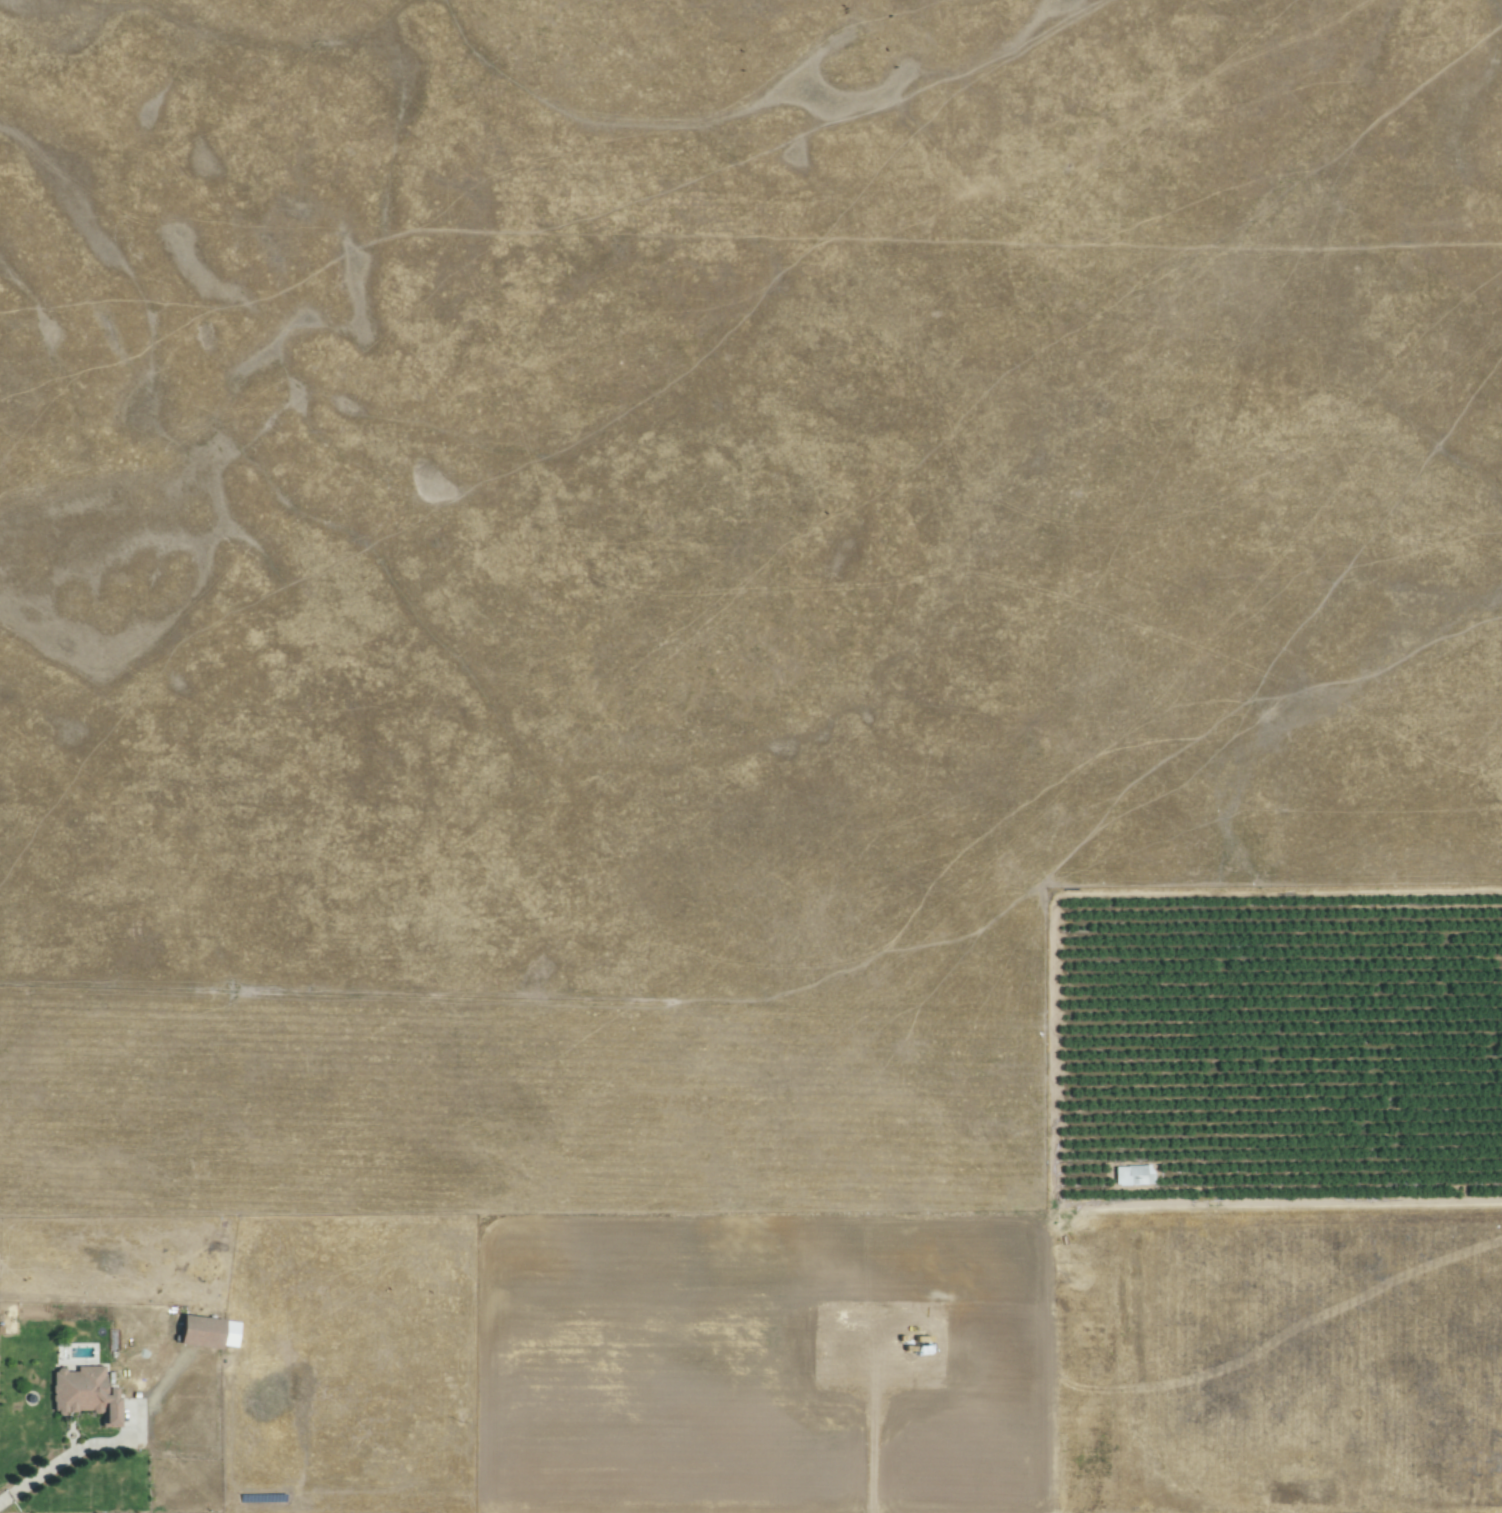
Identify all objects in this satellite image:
building: (198, 1332)
building: (81, 1394)
road: (39, 1475)

